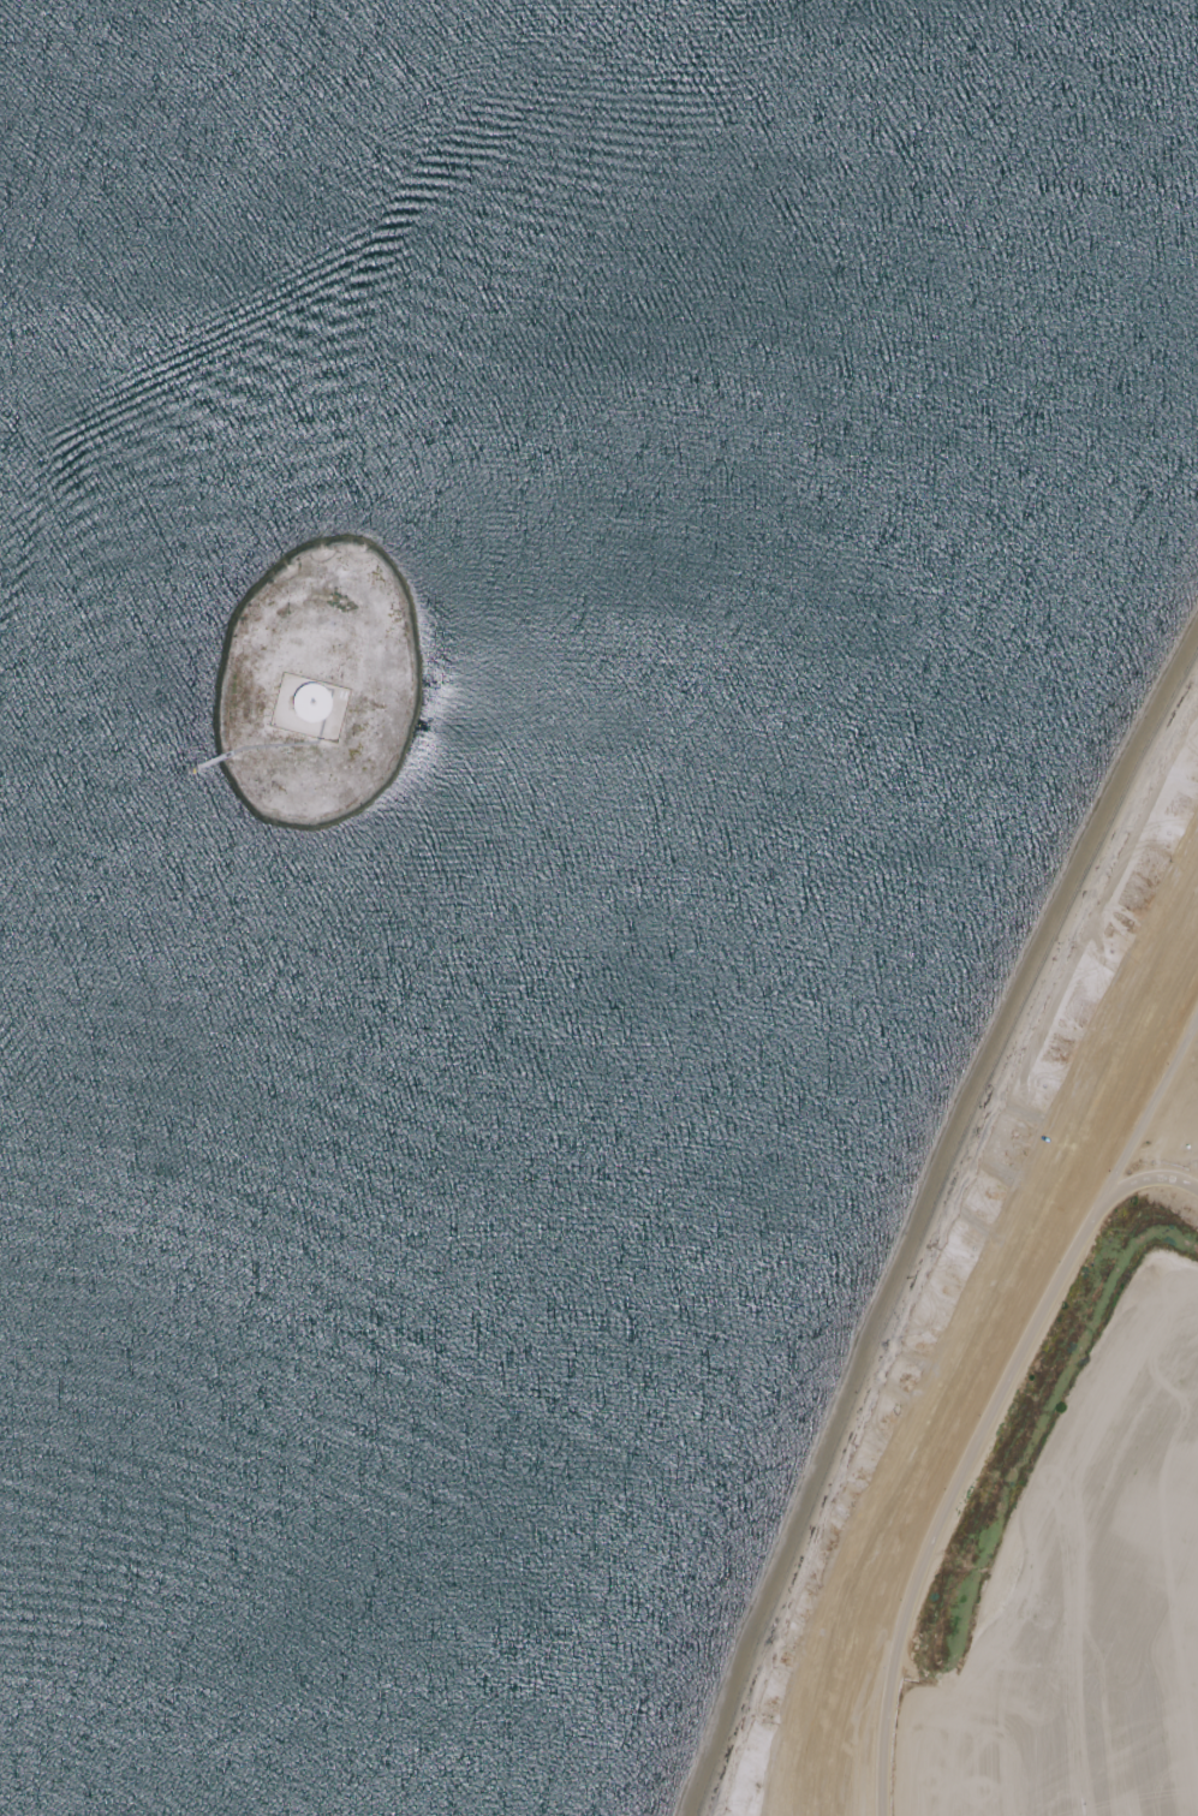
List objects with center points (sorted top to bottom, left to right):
pier: (204, 764)
road: (1149, 1108)
road: (1148, 1177)
park: (1021, 1417)
road: (952, 1496)

